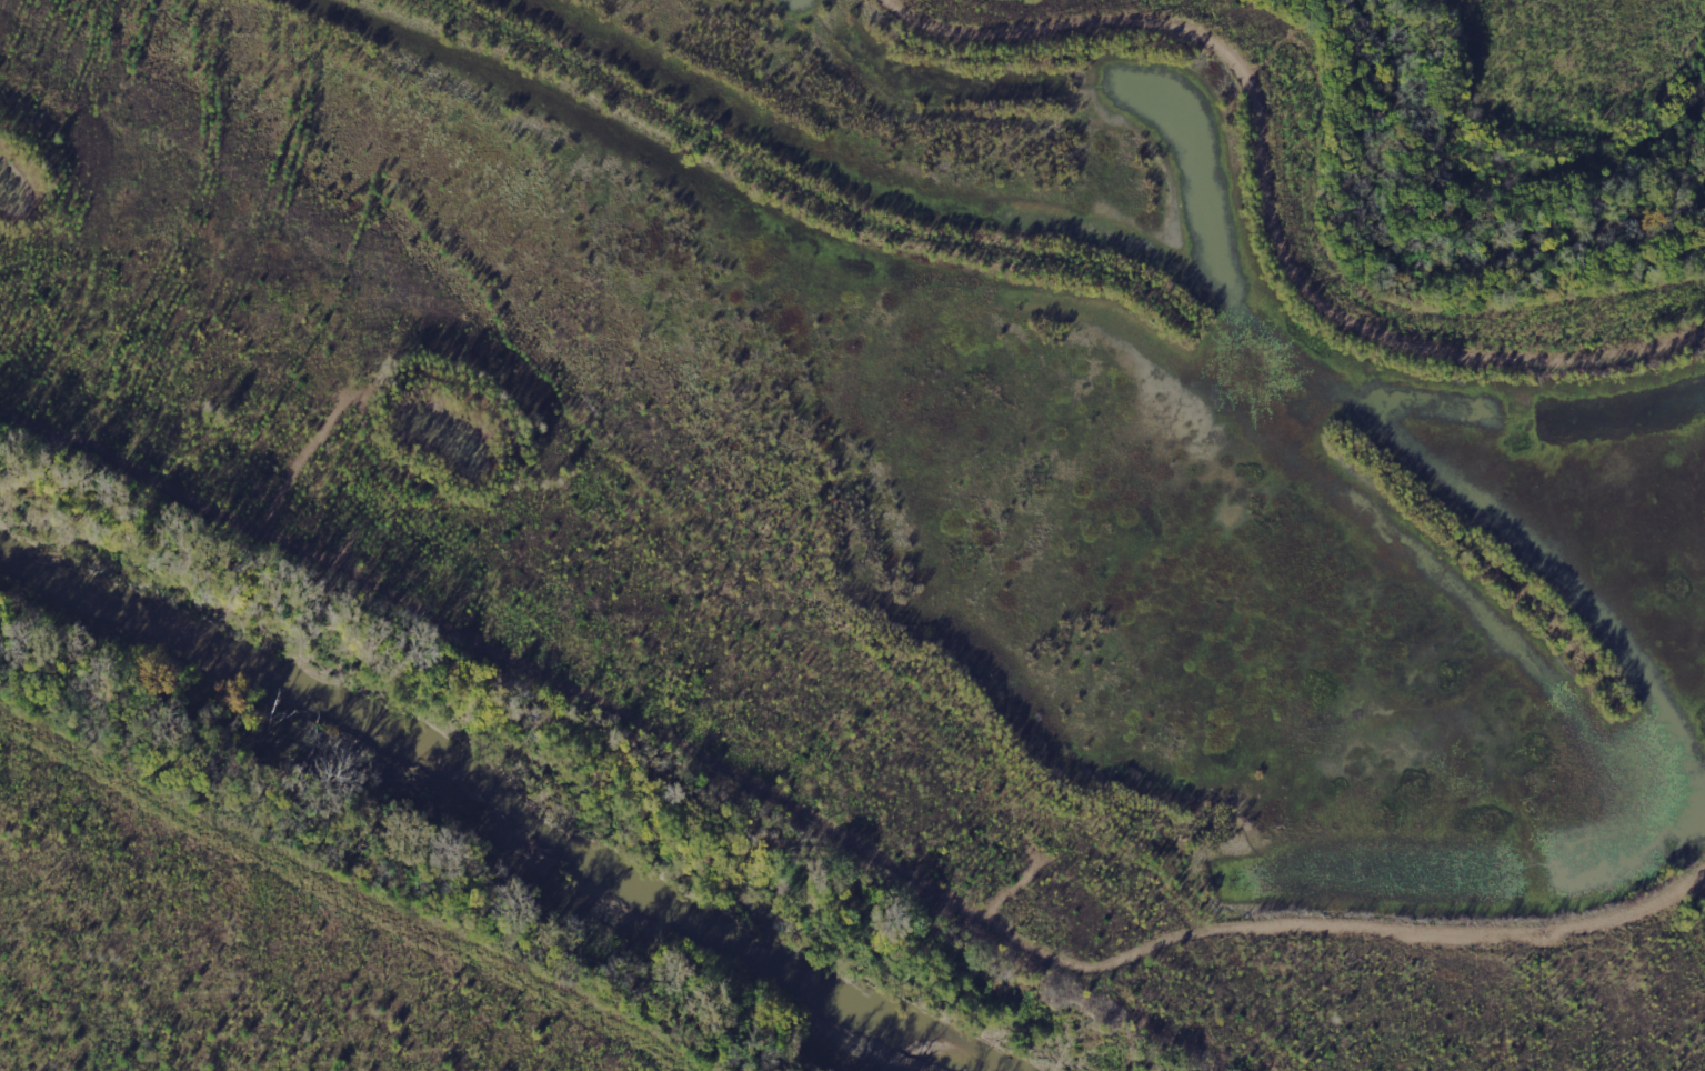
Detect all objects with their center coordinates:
river: (526, 822)

